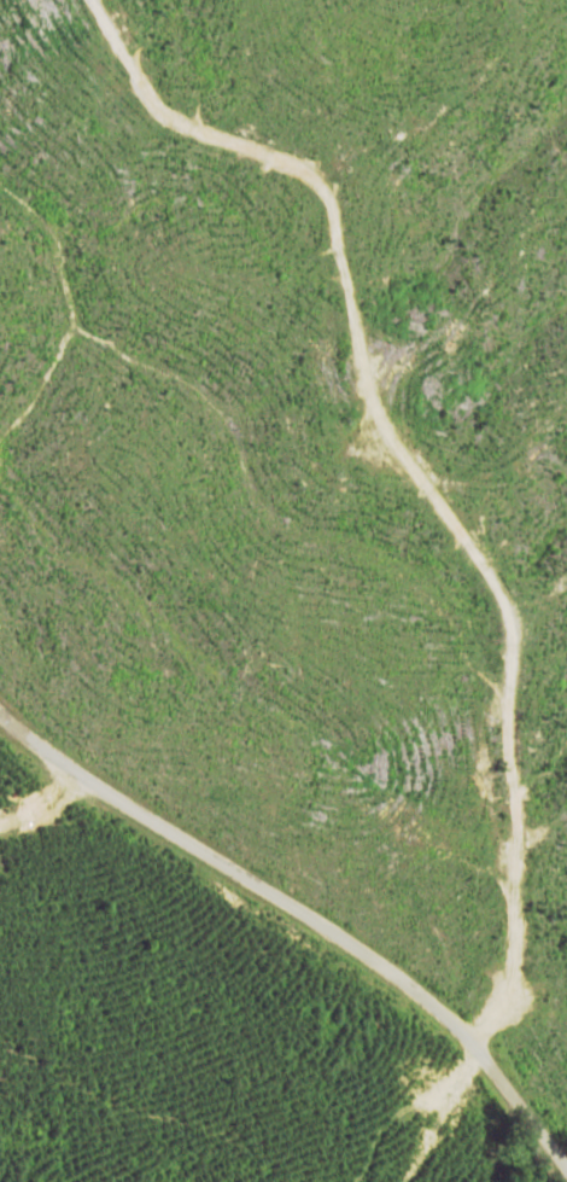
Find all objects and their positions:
road: (268, 945)

